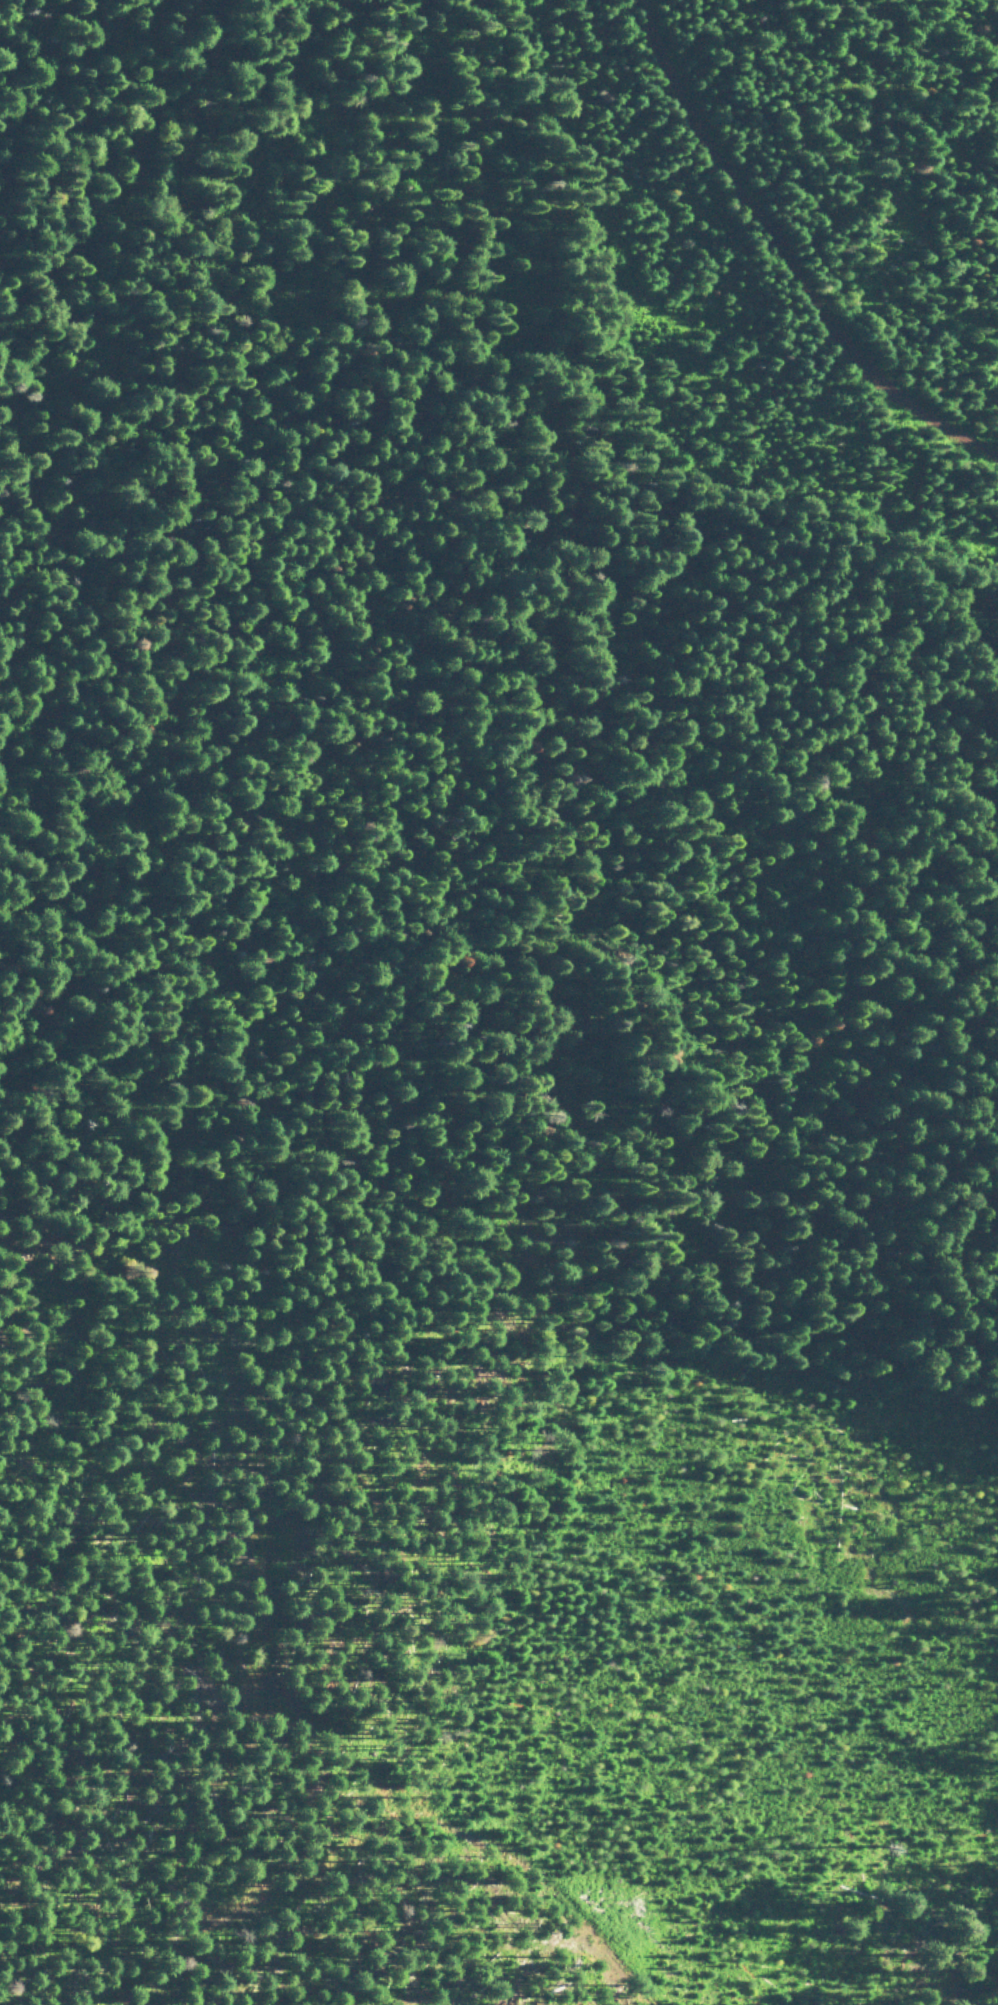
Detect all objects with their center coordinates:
road: (781, 262)

